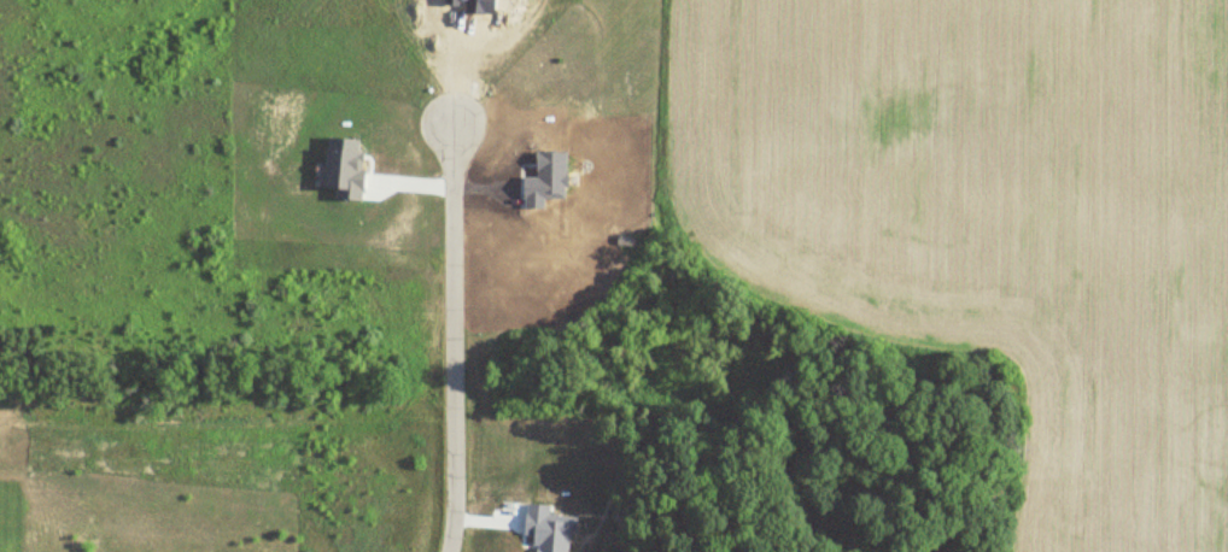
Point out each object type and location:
road: (454, 337)

